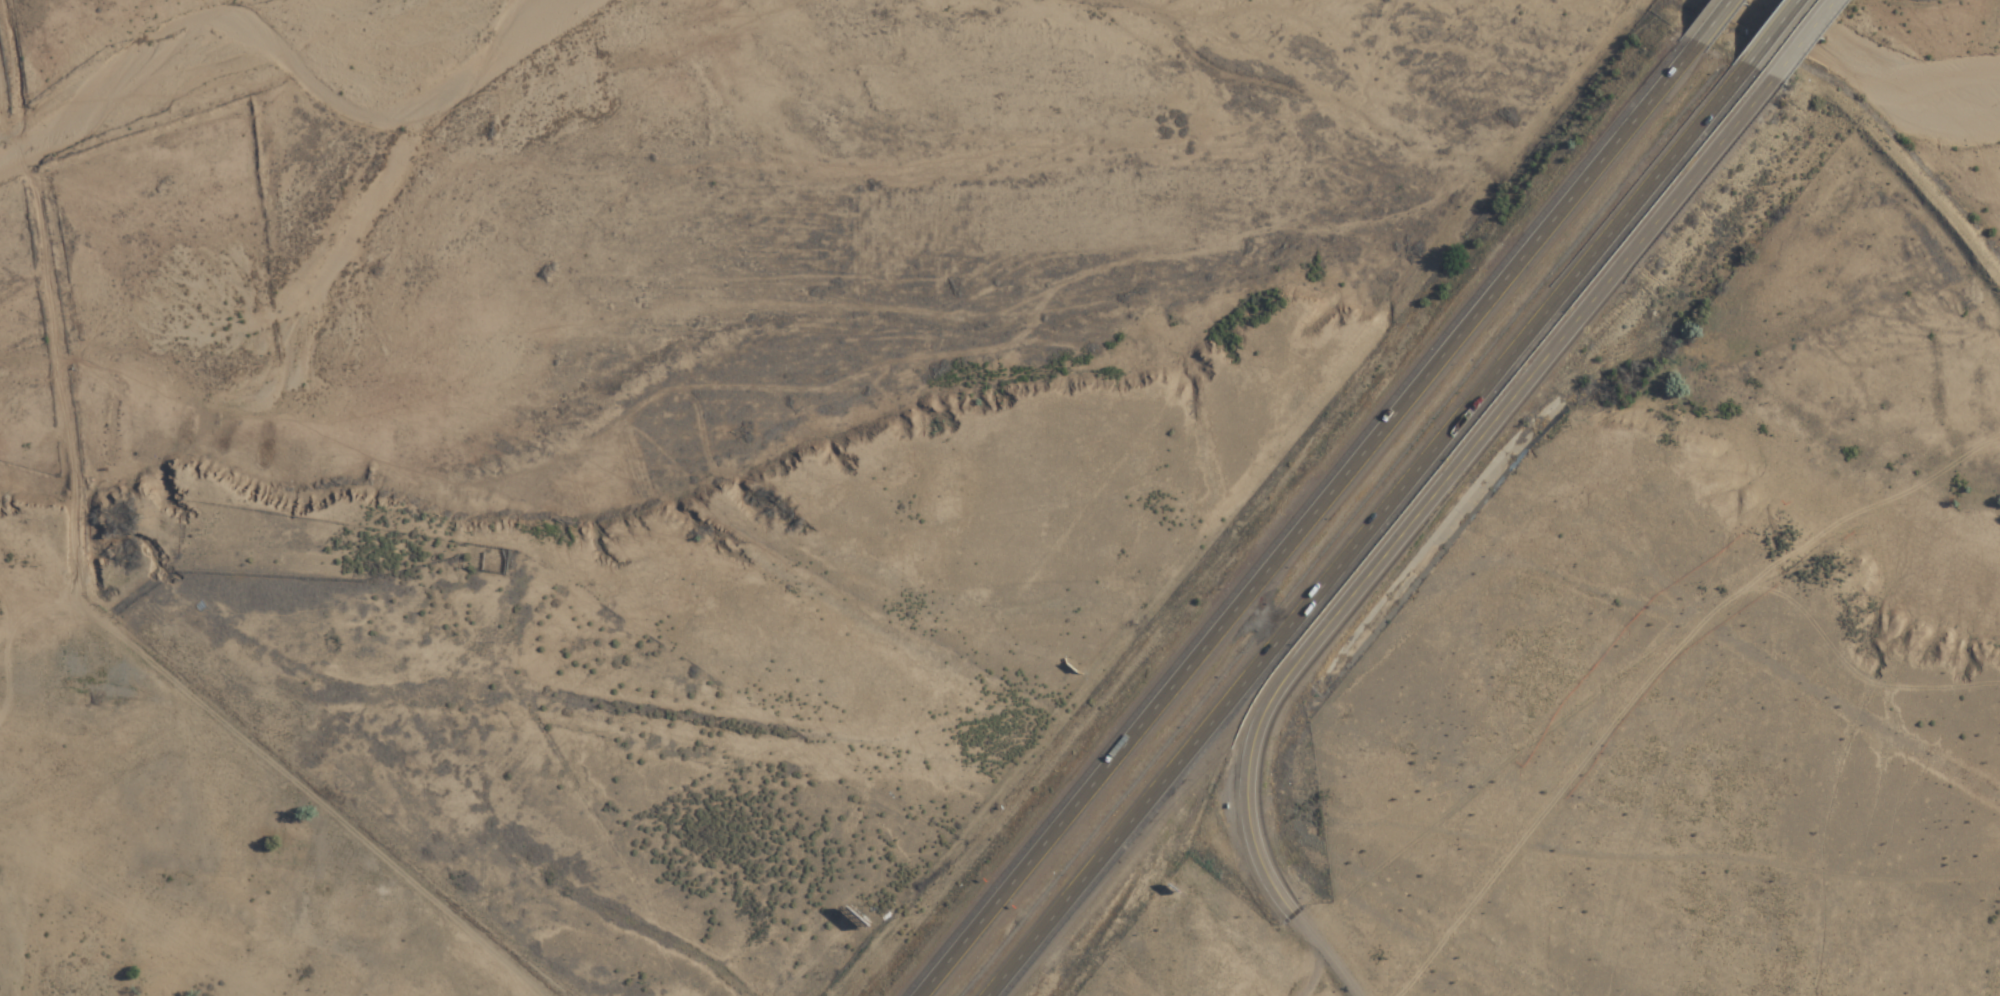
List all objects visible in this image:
road: (1716, 18)
road: (1777, 30)
road: (1807, 37)
river: (1886, 53)
river: (305, 77)
railway: (349, 304)
road: (1417, 515)
road: (1313, 516)
road: (1380, 531)
railway: (1186, 788)

